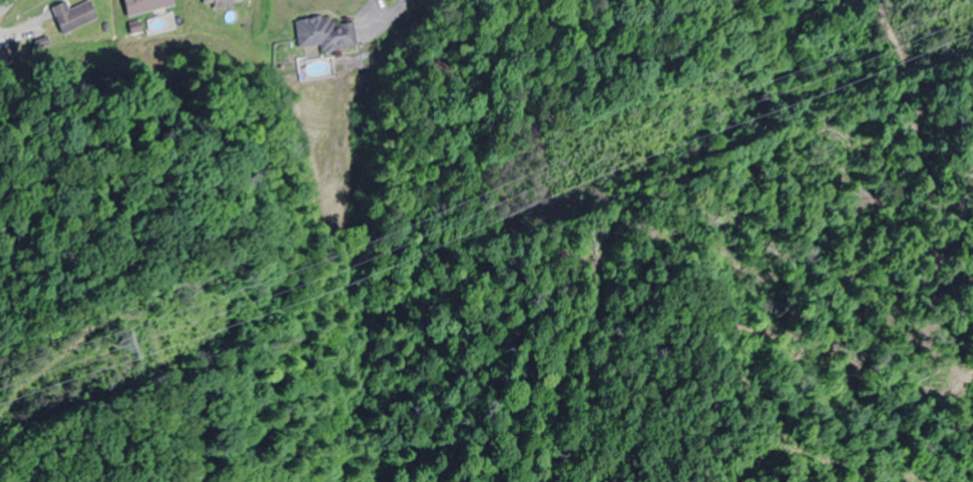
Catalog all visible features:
building: (222, 3)
building: (151, 5)
building: (324, 34)

